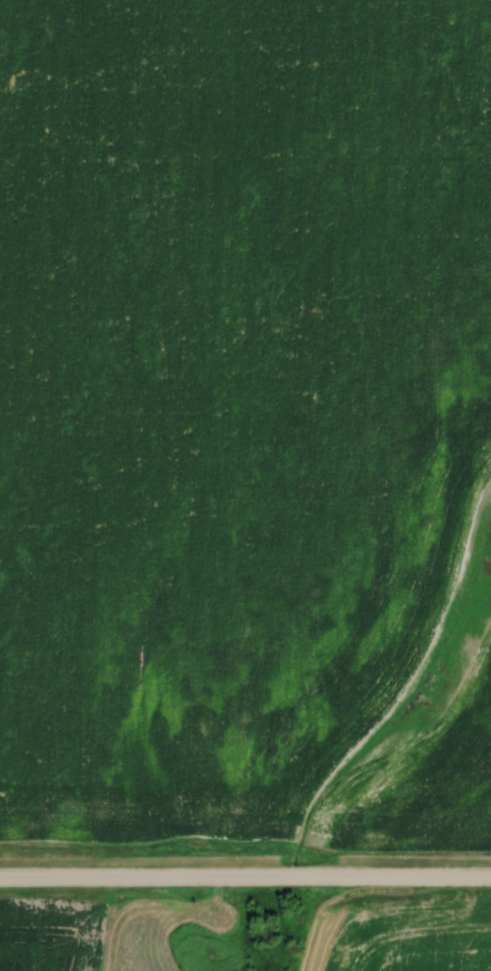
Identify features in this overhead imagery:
road: (245, 880)

